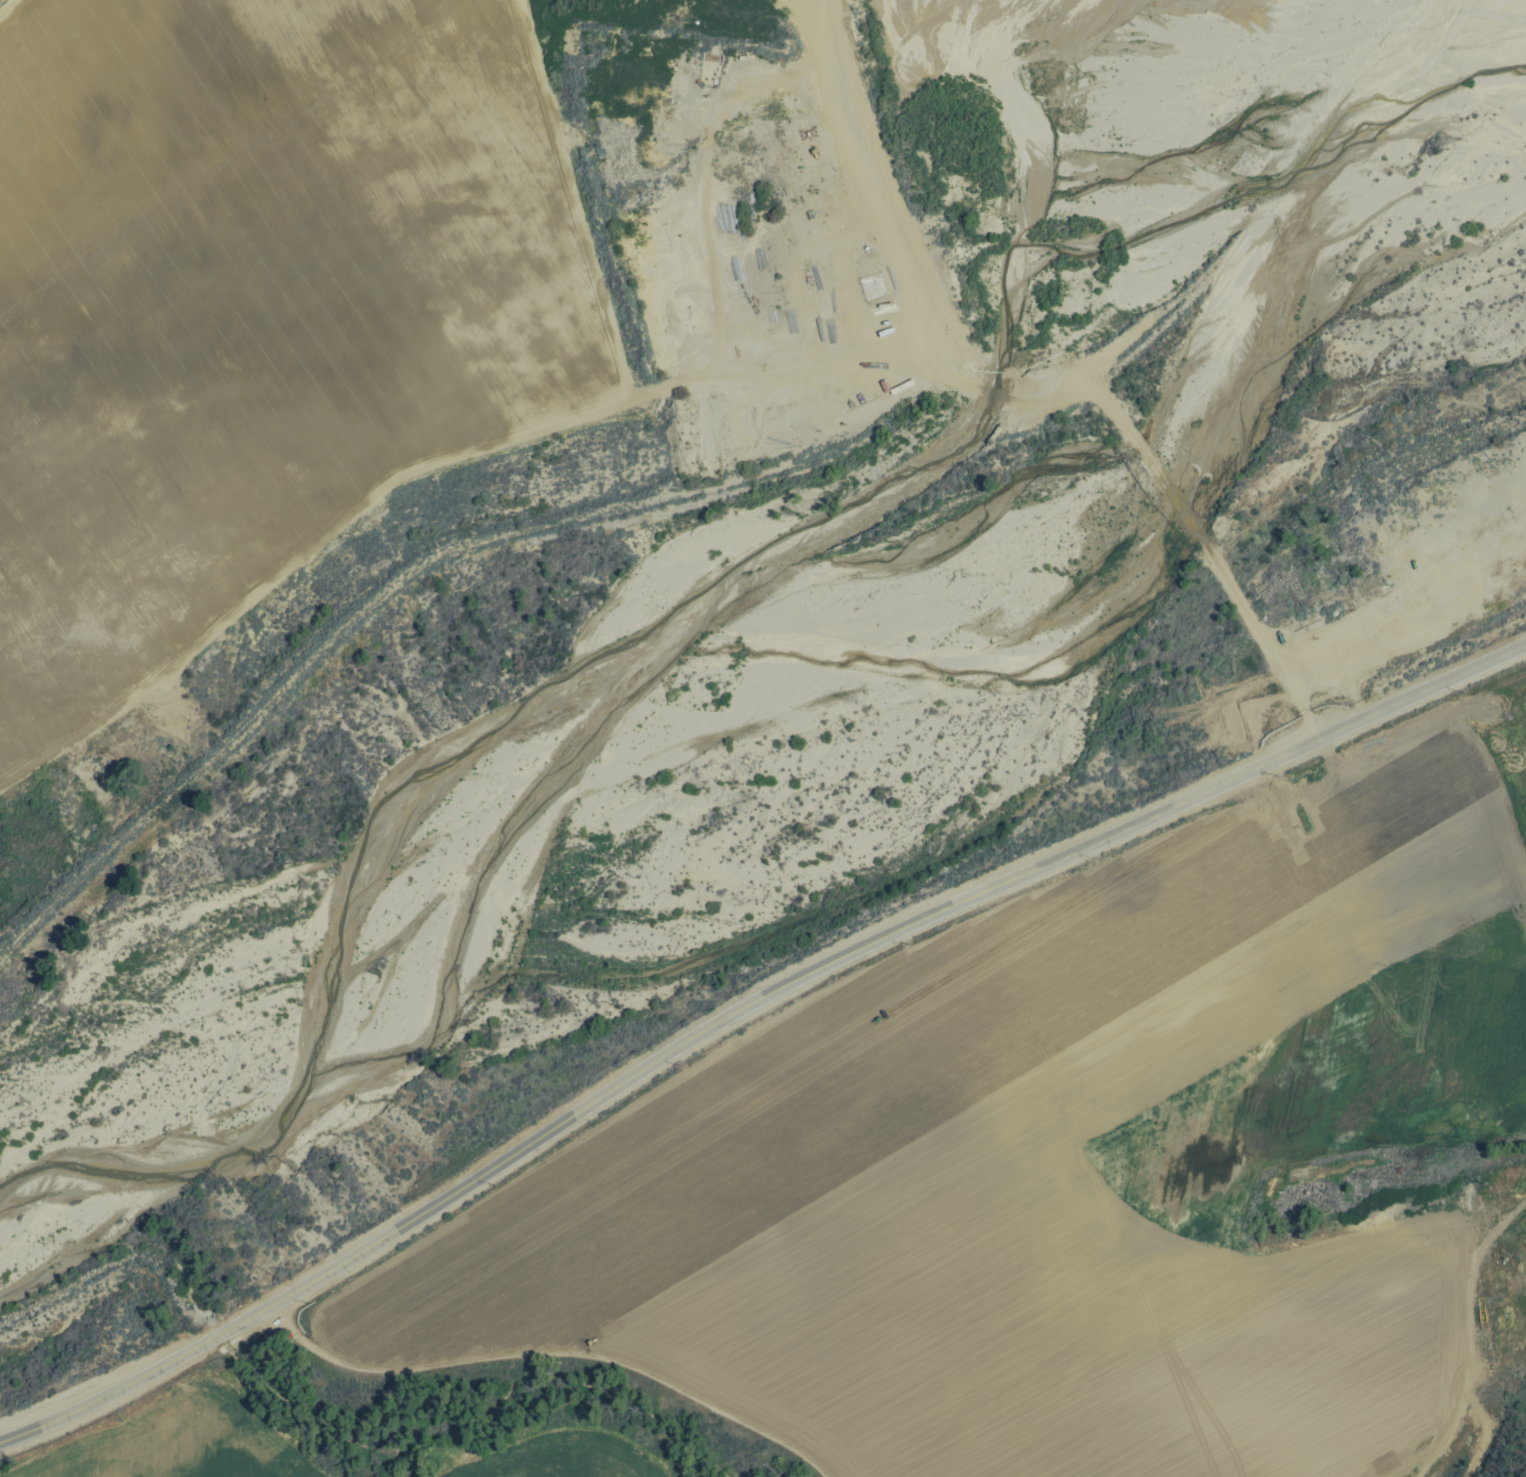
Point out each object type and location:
river: (834, 631)
road: (744, 1016)

